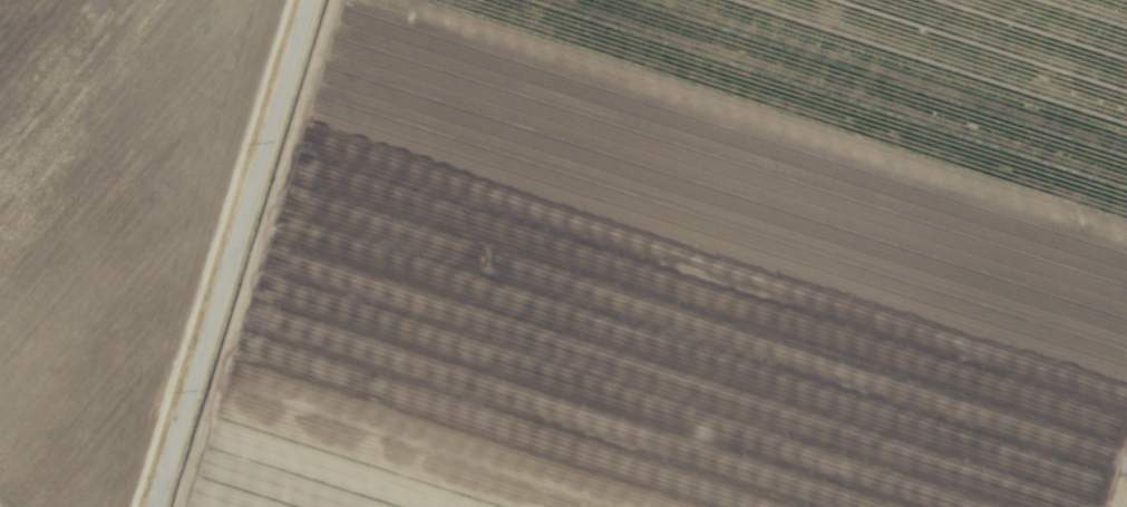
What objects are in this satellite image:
road: (202, 253)
road: (231, 253)
crop: (563, 253)
road: (1120, 487)

